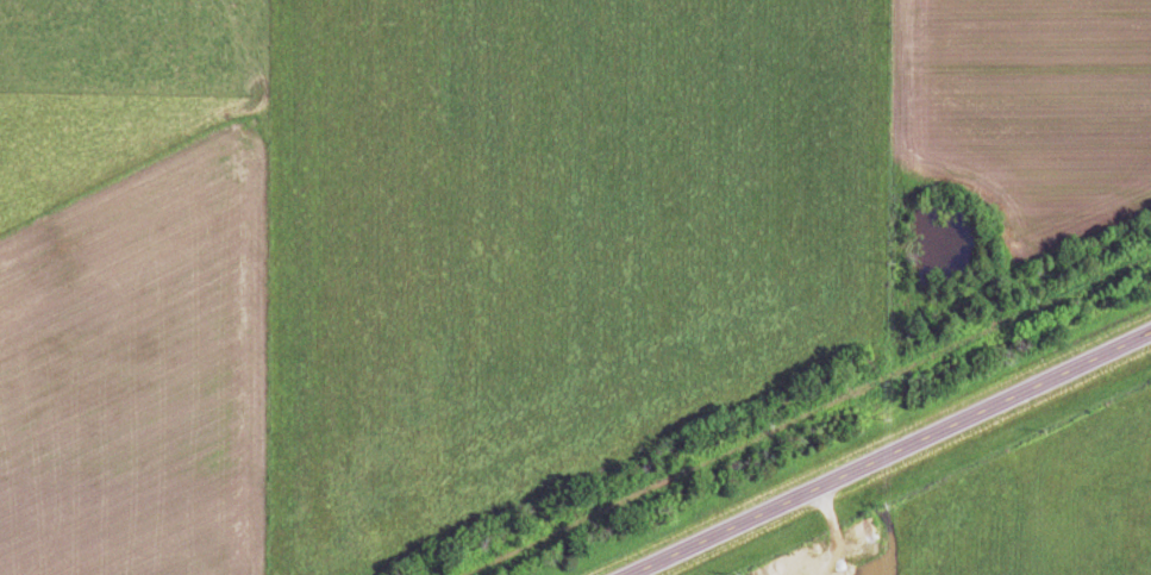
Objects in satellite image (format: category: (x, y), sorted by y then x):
railway: (768, 399)
road: (889, 452)

